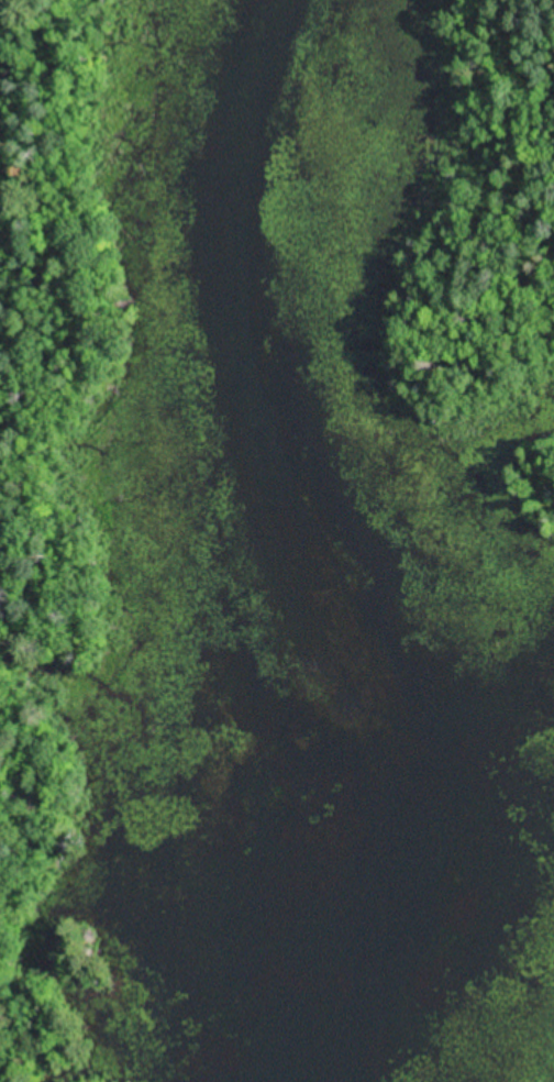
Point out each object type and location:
river: (302, 539)

